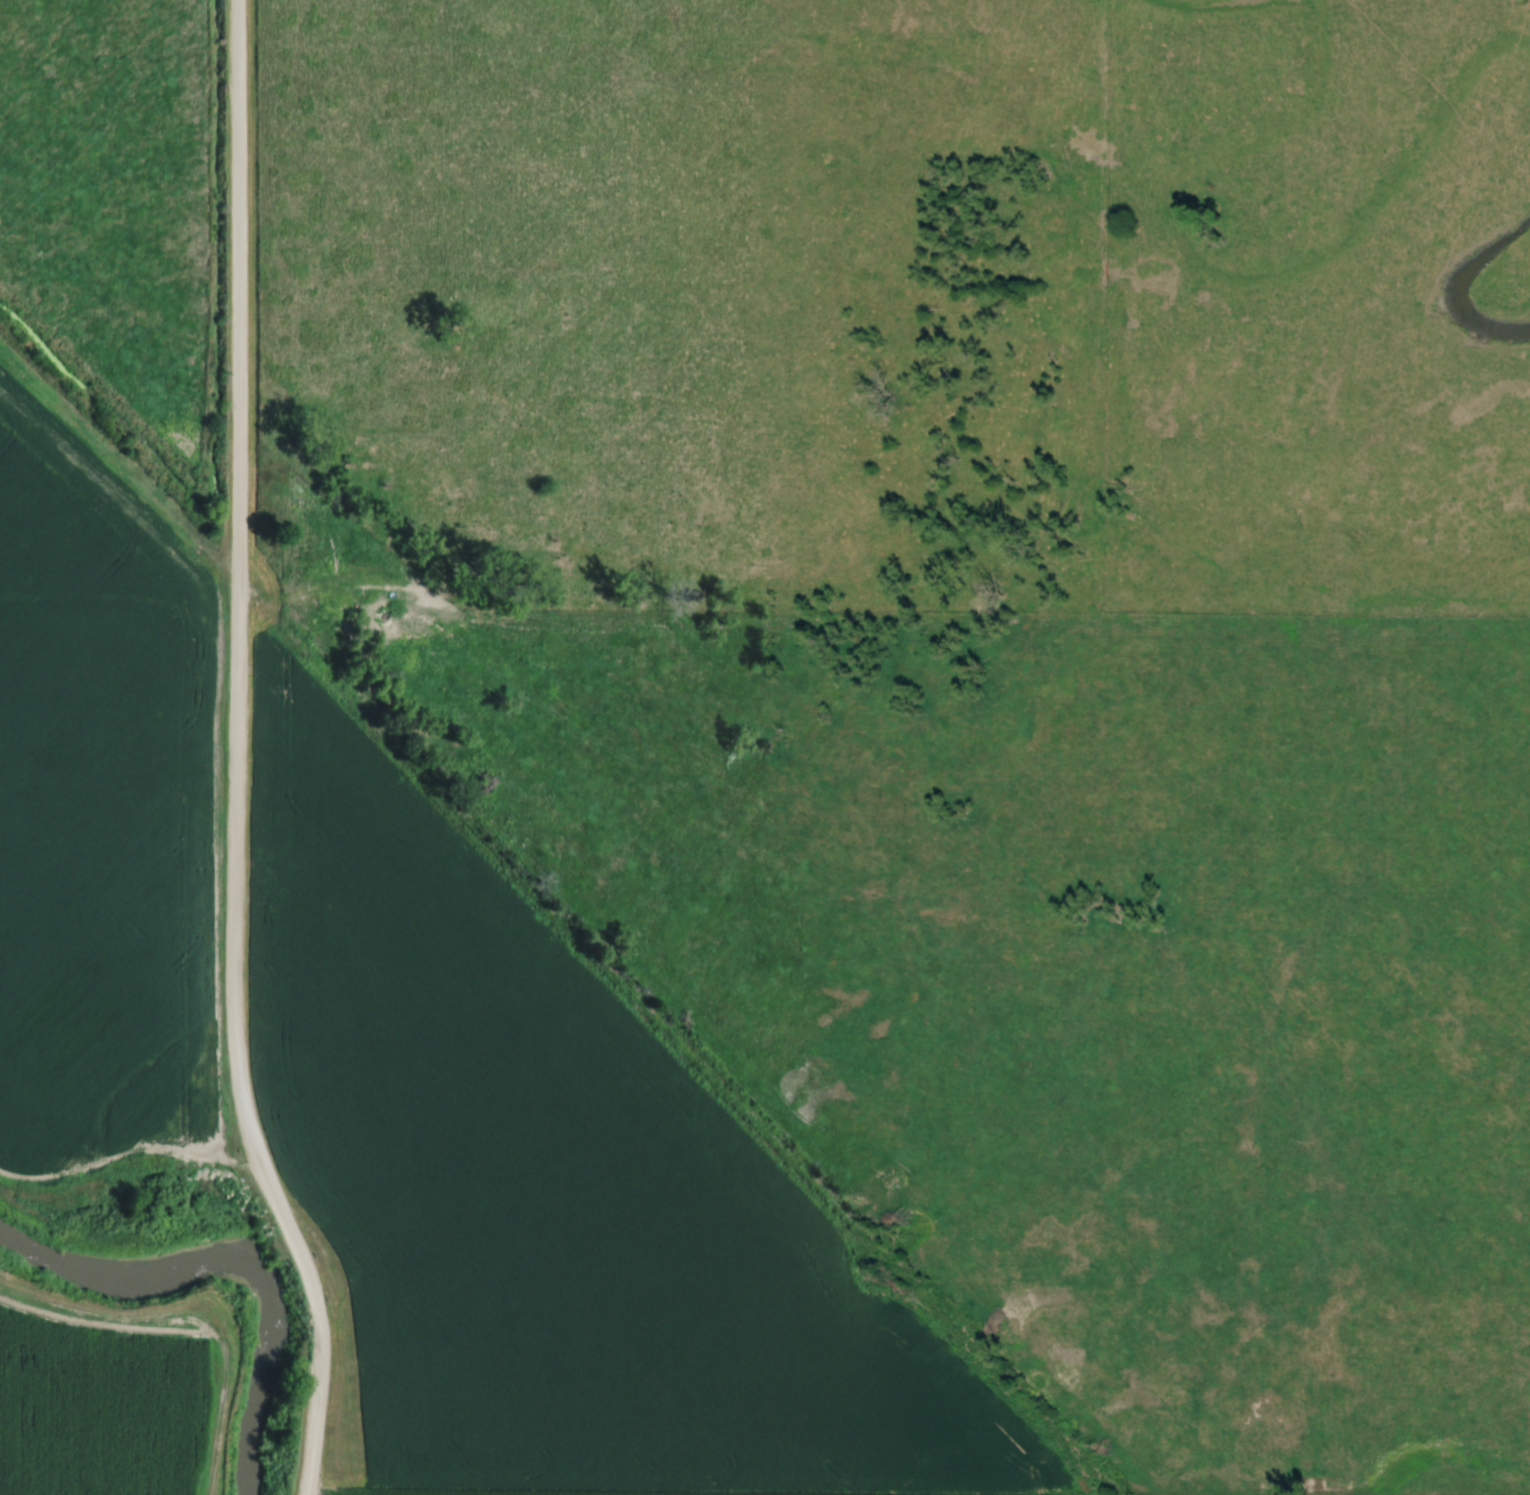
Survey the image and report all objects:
river: (225, 413)
road: (237, 755)
river: (231, 1246)

